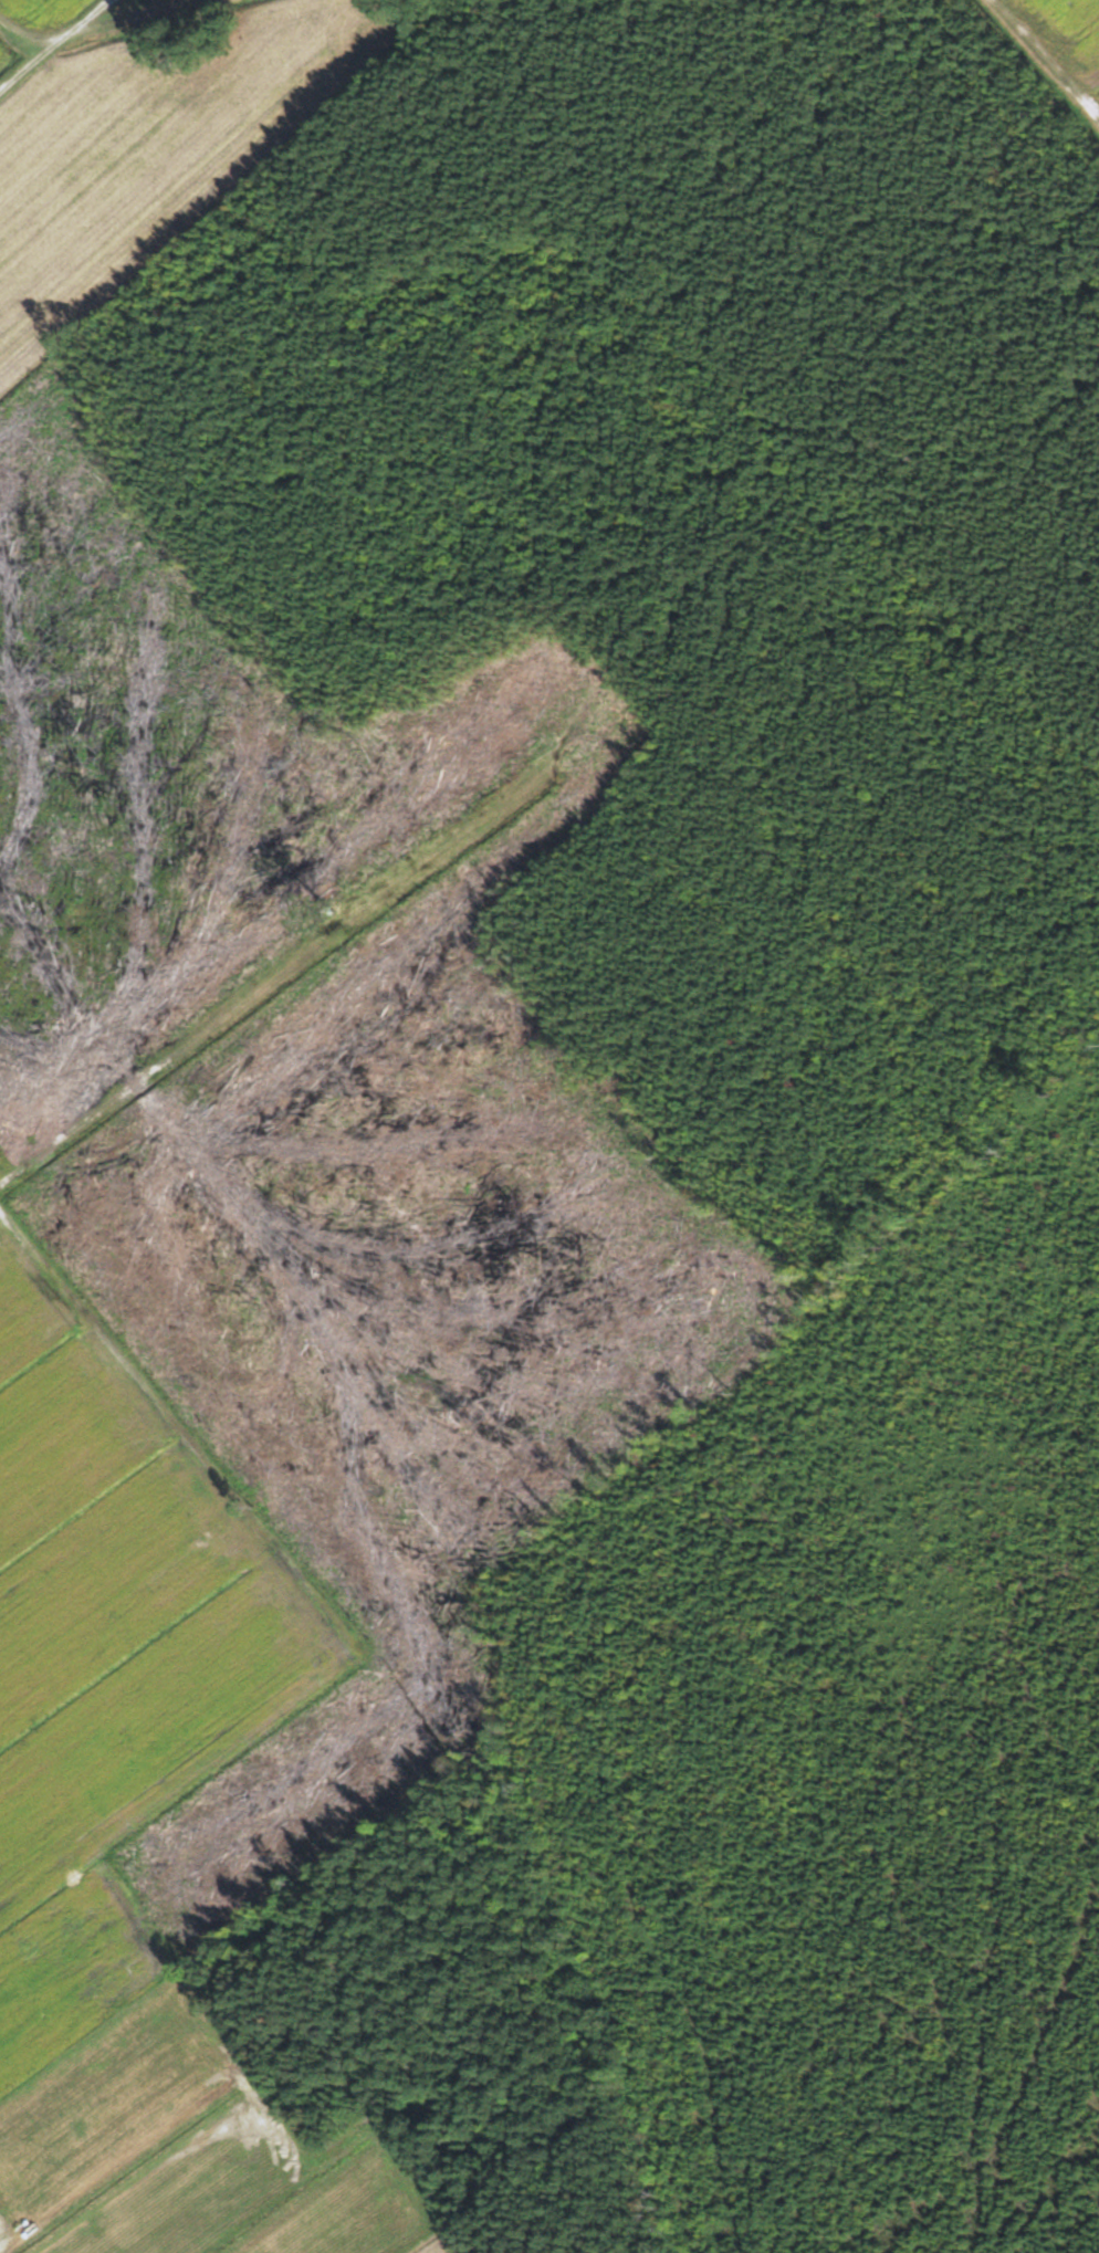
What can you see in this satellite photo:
road: (22, 35)
road: (53, 45)

